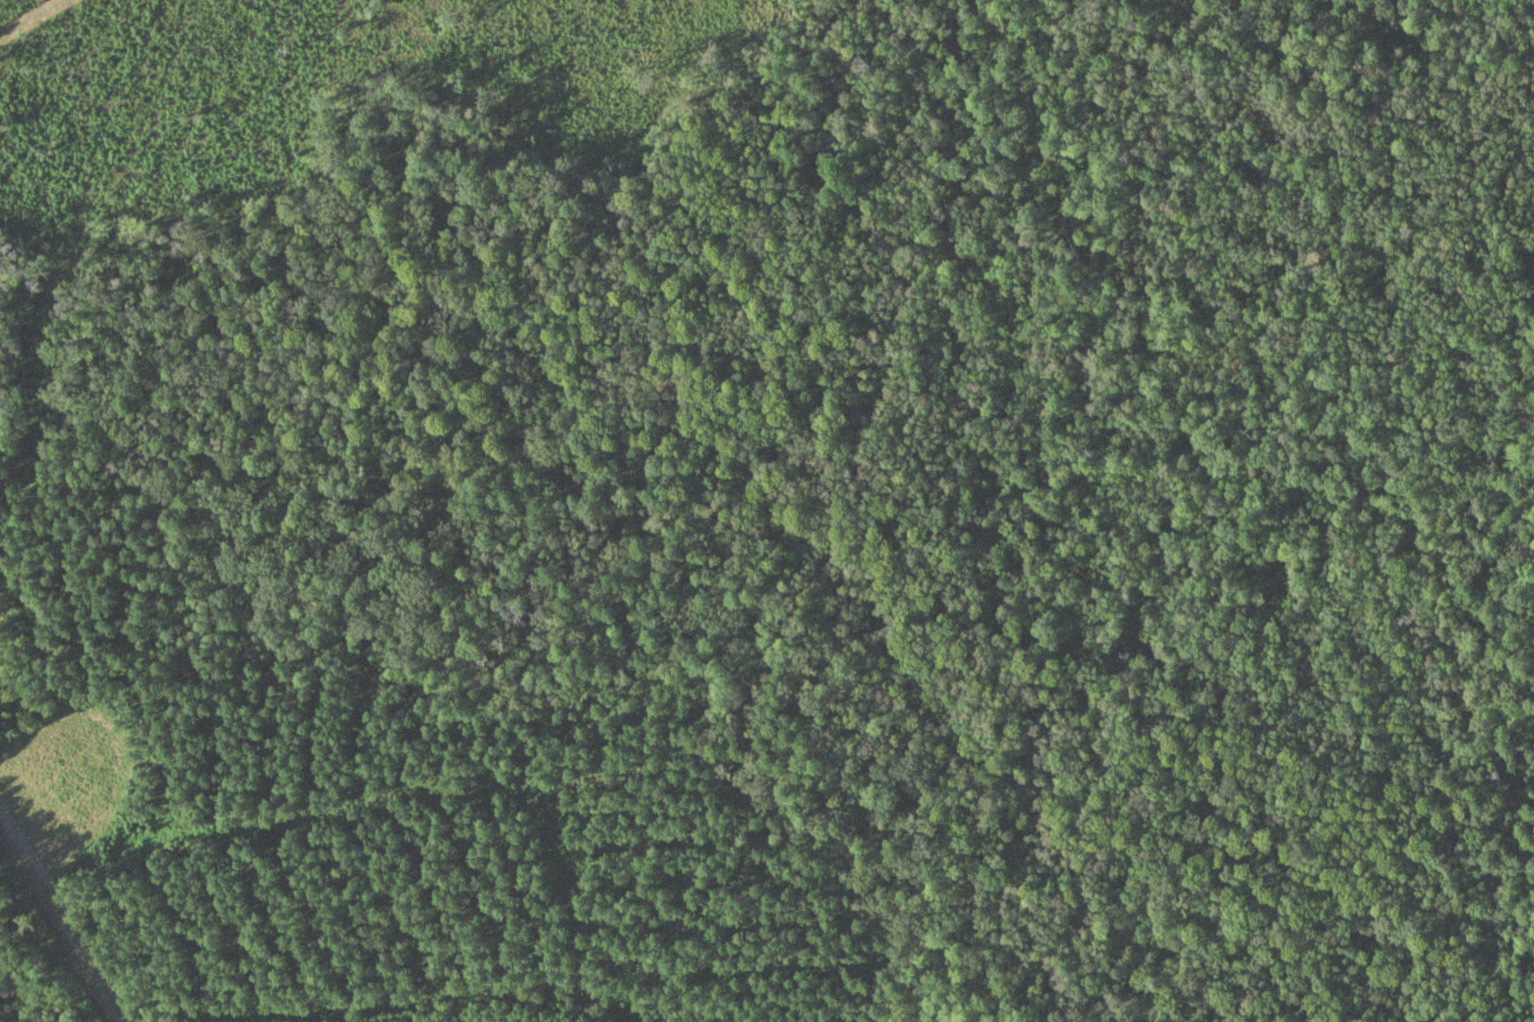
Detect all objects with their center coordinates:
road: (53, 41)
road: (43, 897)
road: (104, 993)

